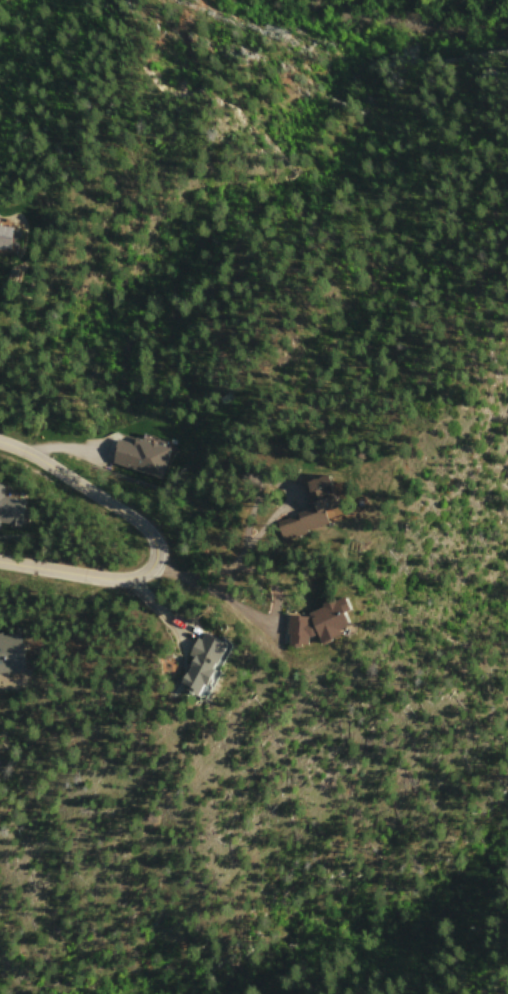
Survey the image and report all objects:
building: (8, 244)
building: (138, 461)
building: (321, 516)
road: (158, 546)
building: (318, 632)
building: (12, 662)
building: (201, 673)

